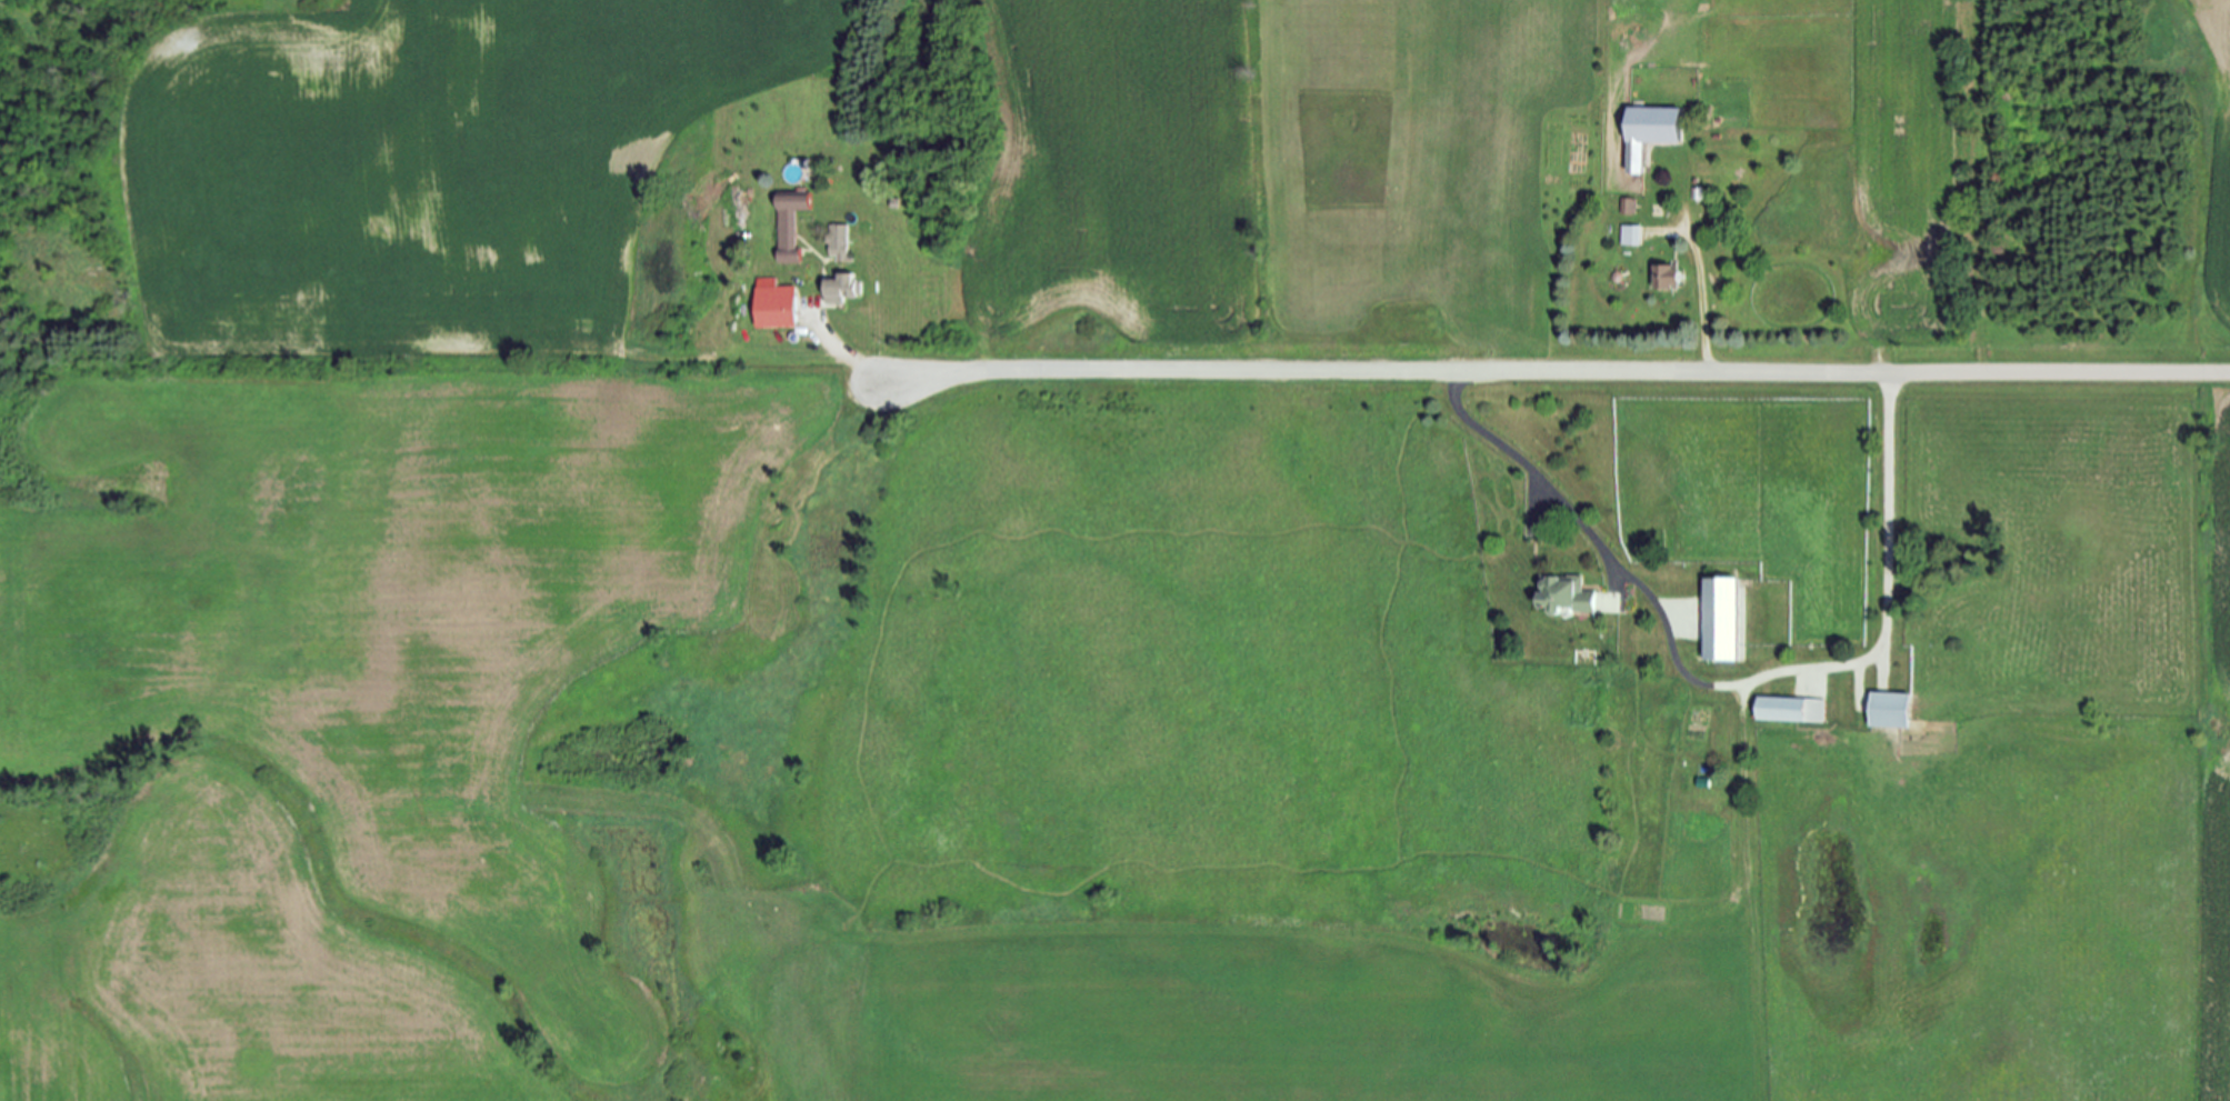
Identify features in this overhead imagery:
building: (1652, 130)
building: (1628, 204)
building: (791, 223)
building: (1631, 234)
building: (840, 241)
building: (1670, 276)
building: (842, 288)
road: (1706, 297)
building: (777, 303)
road: (1558, 371)
building: (1570, 593)
building: (1723, 618)
road: (1726, 688)
building: (1792, 709)
building: (1893, 709)

